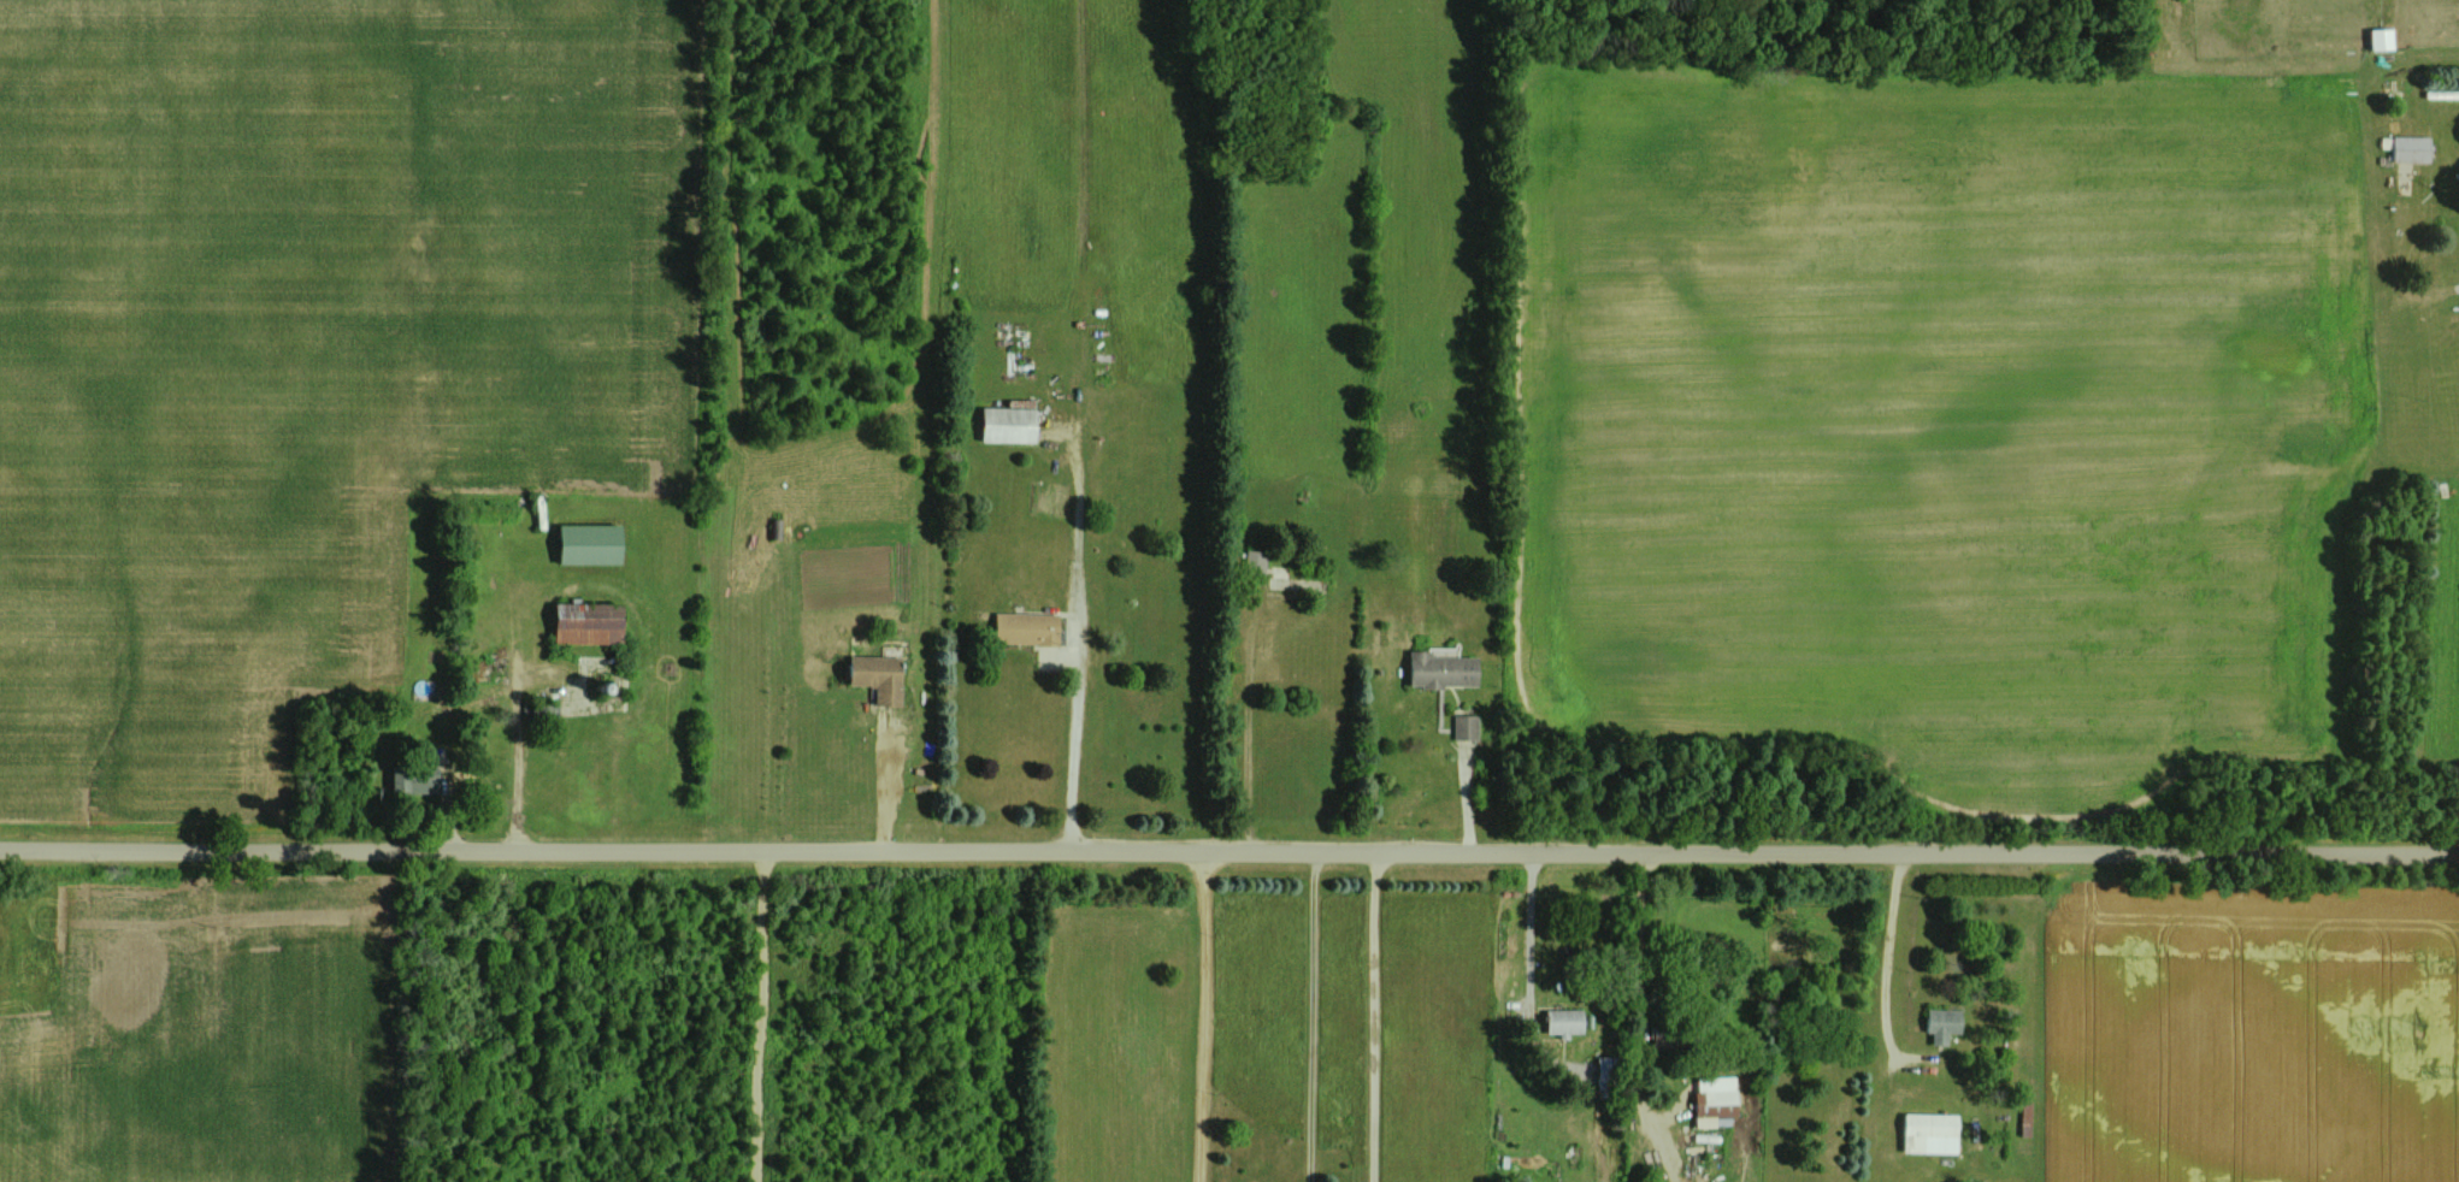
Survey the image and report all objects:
building: (2407, 149)
building: (2458, 172)
building: (1009, 424)
building: (774, 525)
building: (1287, 581)
building: (589, 621)
building: (1022, 628)
building: (1438, 670)
building: (879, 675)
road: (519, 687)
building: (546, 709)
building: (1462, 726)
road: (1239, 728)
road: (1077, 735)
building: (518, 757)
building: (414, 776)
road: (1228, 849)
road: (1520, 975)
road: (1640, 986)
road: (751, 1015)
road: (1204, 1015)
road: (1313, 1015)
road: (1374, 1015)
building: (1559, 1021)
building: (1938, 1023)
building: (1604, 1071)
building: (1710, 1098)
building: (2022, 1117)
building: (1926, 1131)

